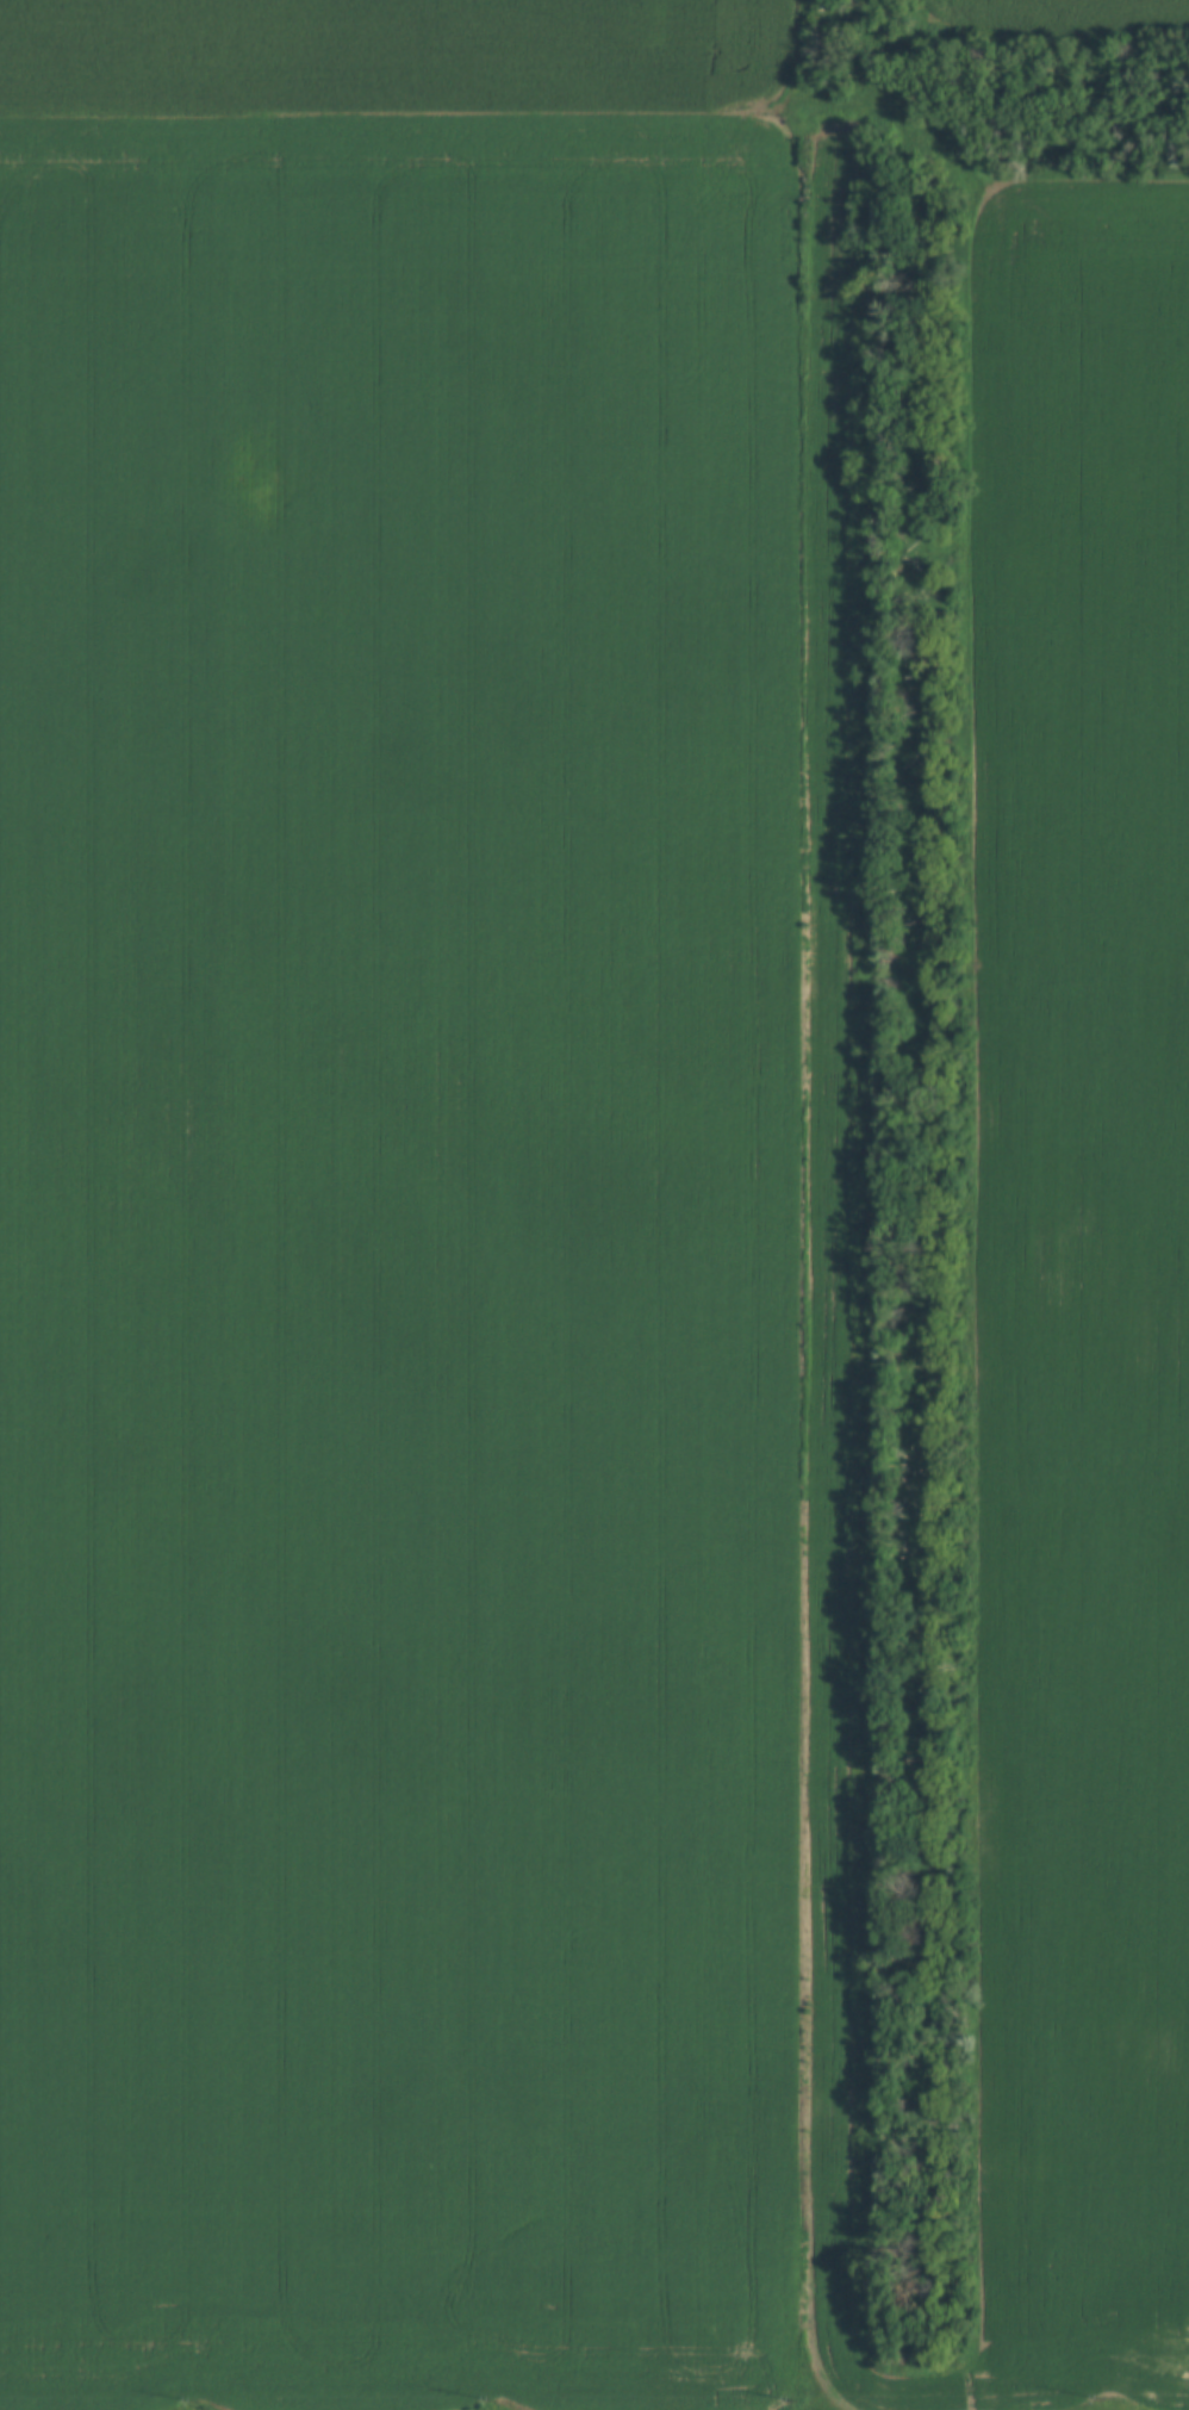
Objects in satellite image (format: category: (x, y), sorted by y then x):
crop: (1090, 5)
road: (516, 112)
crop: (397, 1205)
road: (807, 1256)
crop: (1041, 1292)

